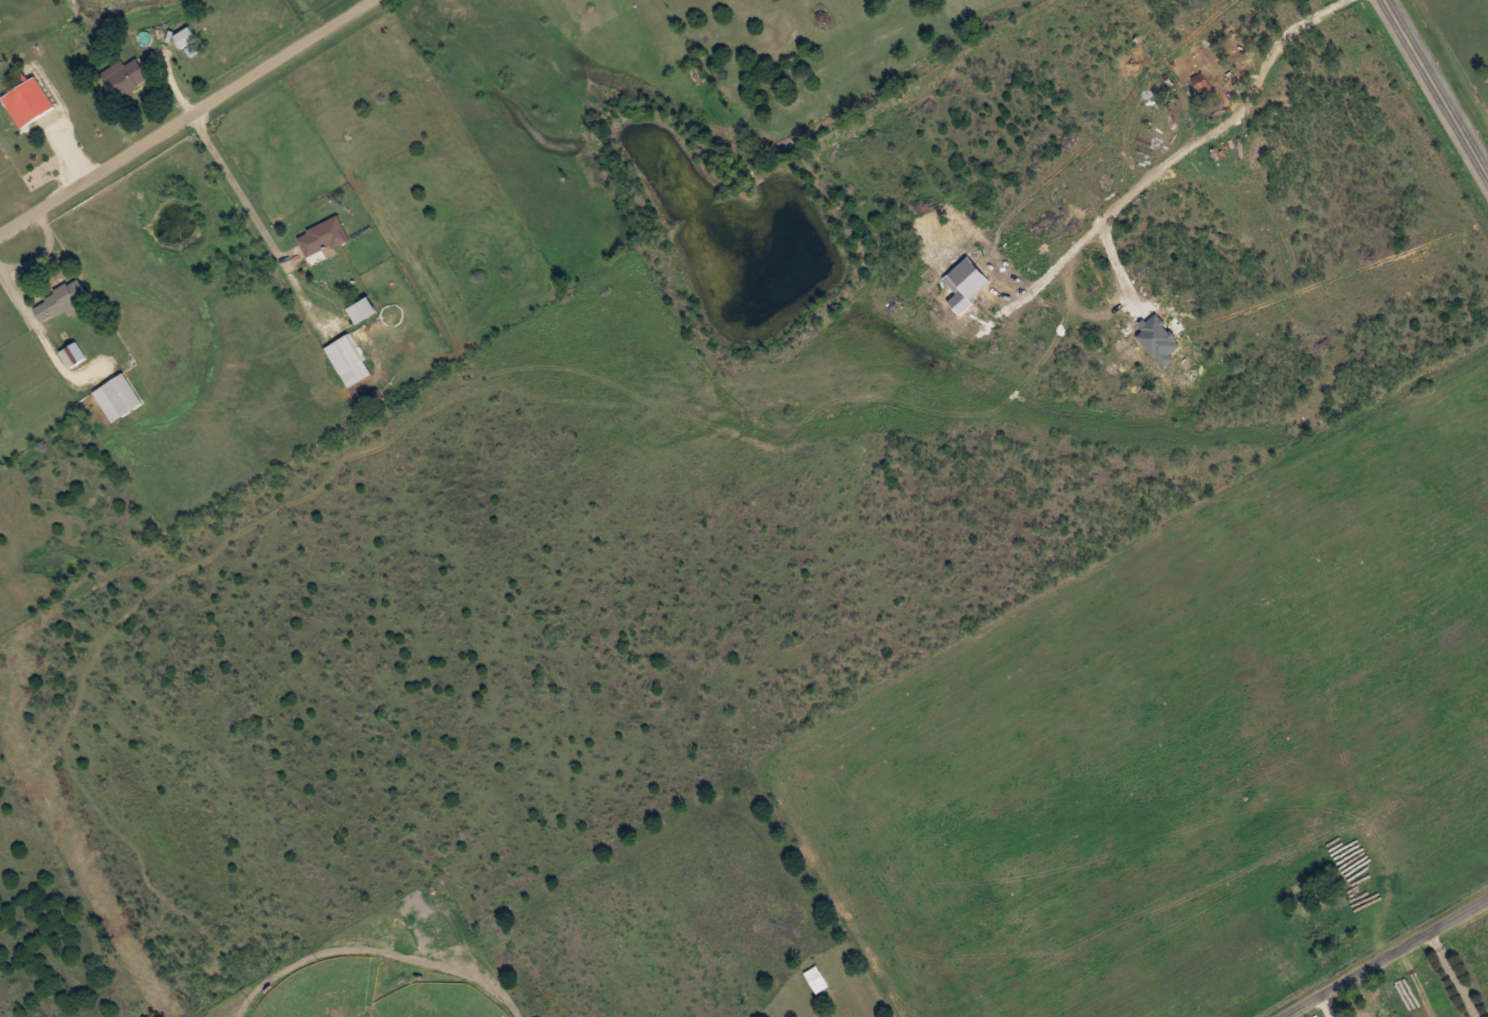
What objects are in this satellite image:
building: (184, 37)
building: (126, 78)
building: (1199, 81)
road: (1437, 86)
building: (27, 98)
road: (184, 117)
building: (322, 237)
building: (61, 302)
building: (73, 354)
building: (352, 362)
building: (117, 397)
road: (1385, 959)
building: (816, 978)

